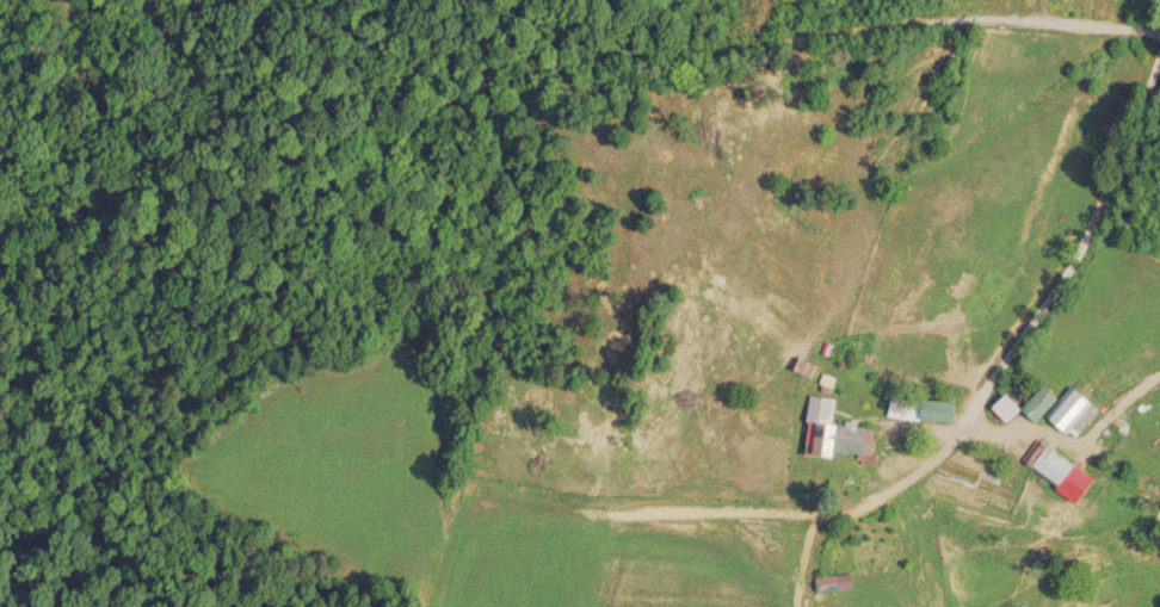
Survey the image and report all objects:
building: (1061, 402)
building: (926, 405)
building: (838, 428)
building: (997, 452)
building: (1059, 465)

